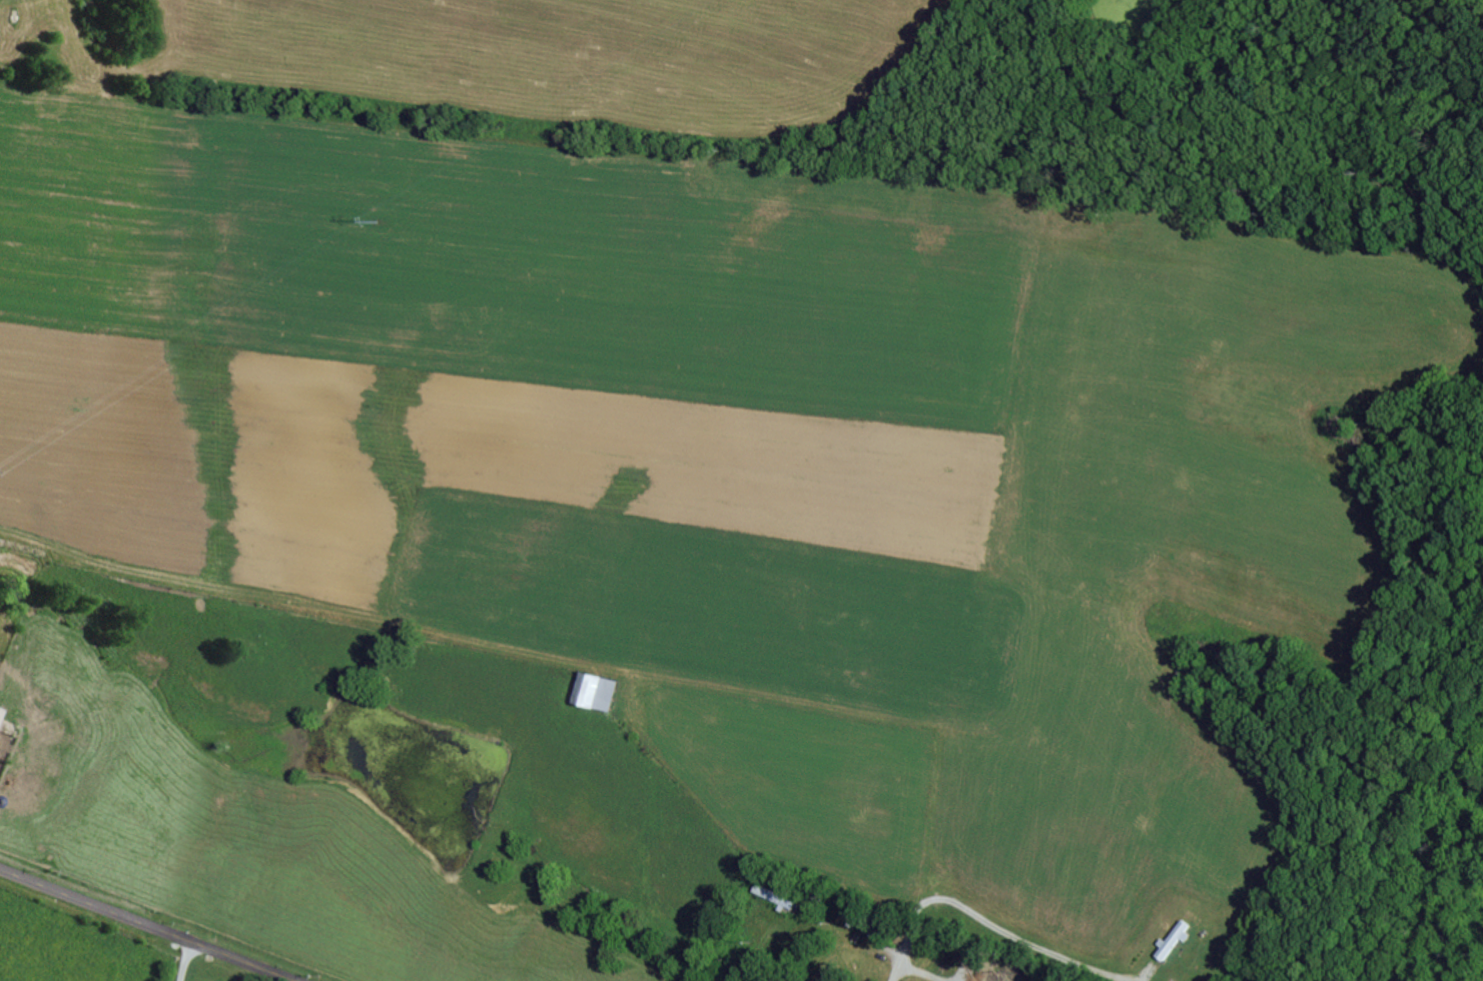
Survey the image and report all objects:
building: (593, 689)
building: (862, 919)
road: (982, 919)
road: (146, 924)
road: (751, 955)

